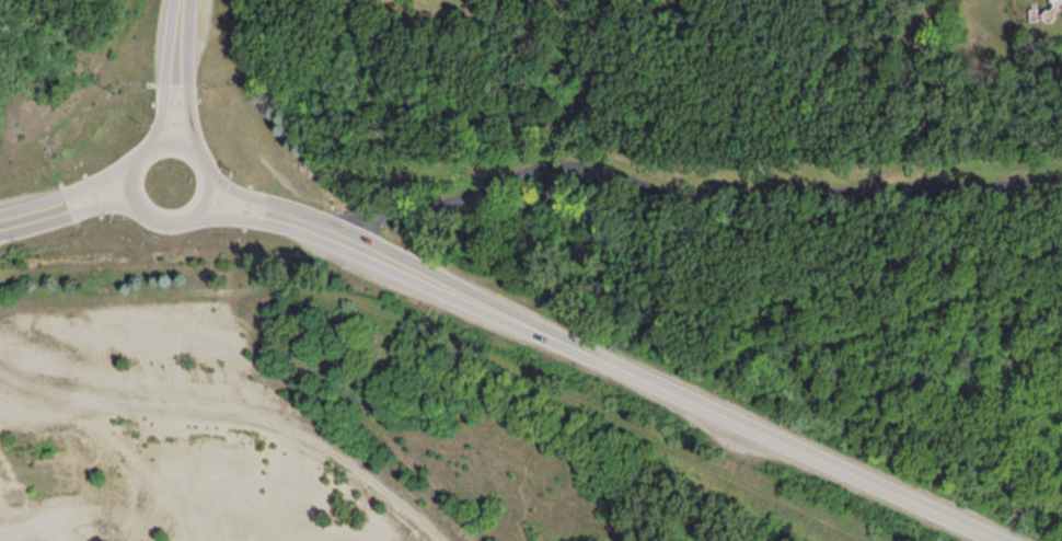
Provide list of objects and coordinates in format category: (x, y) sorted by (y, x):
building: (1057, 2)
road: (181, 23)
road: (166, 100)
road: (189, 102)
road: (158, 142)
road: (88, 184)
road: (689, 193)
road: (254, 195)
road: (92, 206)
road: (18, 217)
road: (246, 218)
road: (653, 382)

